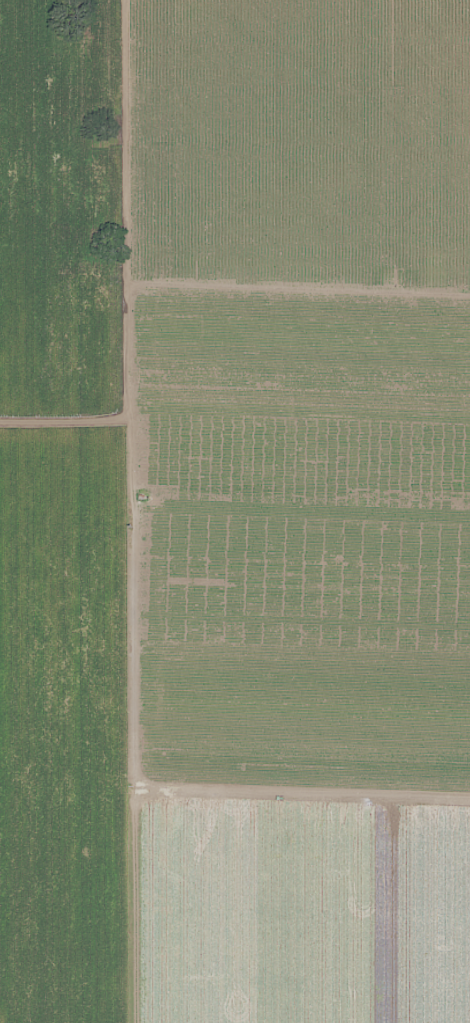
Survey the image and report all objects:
road: (73, 435)
road: (145, 511)

